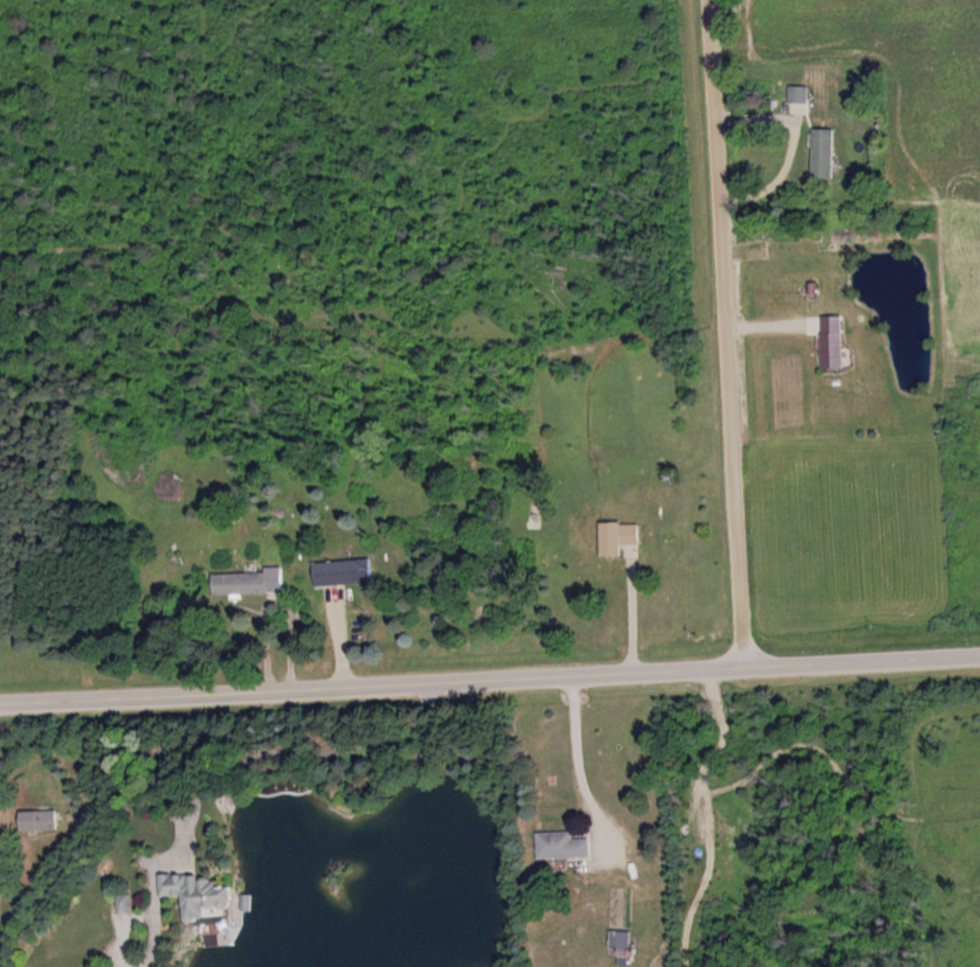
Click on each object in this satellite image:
building: (801, 95)
building: (826, 154)
road: (726, 334)
building: (836, 342)
building: (621, 538)
building: (346, 573)
building: (250, 583)
road: (489, 680)
building: (41, 820)
building: (565, 846)
building: (201, 893)
building: (125, 903)
building: (621, 942)

